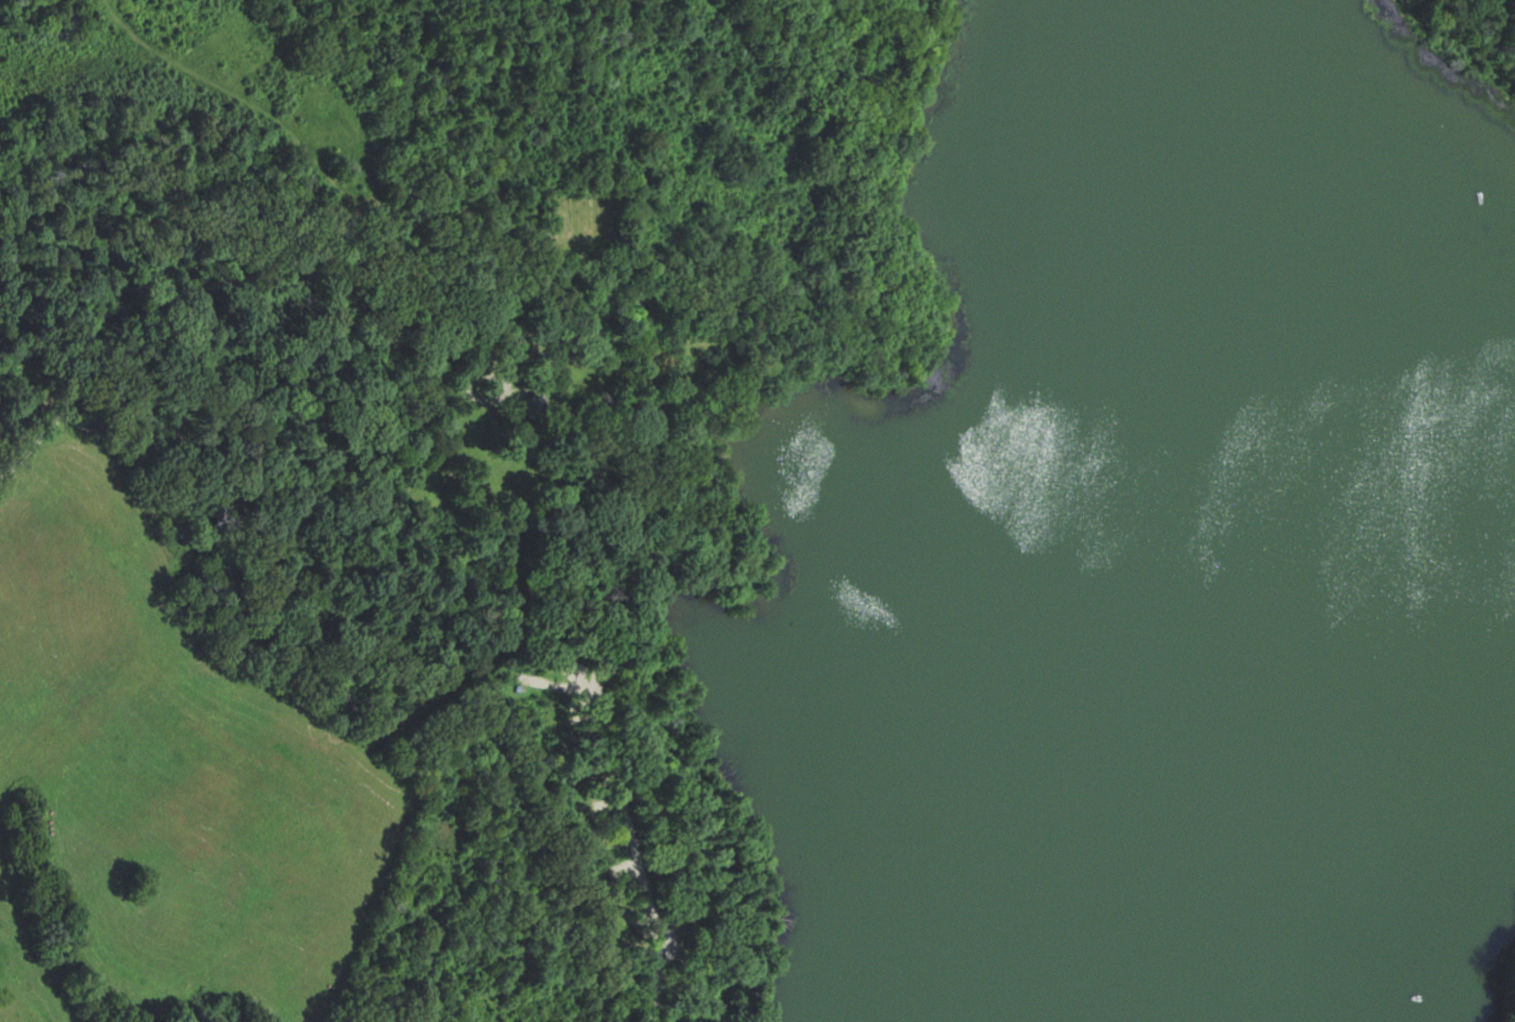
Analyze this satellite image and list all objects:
park: (581, 220)
road: (465, 304)
building: (536, 402)

